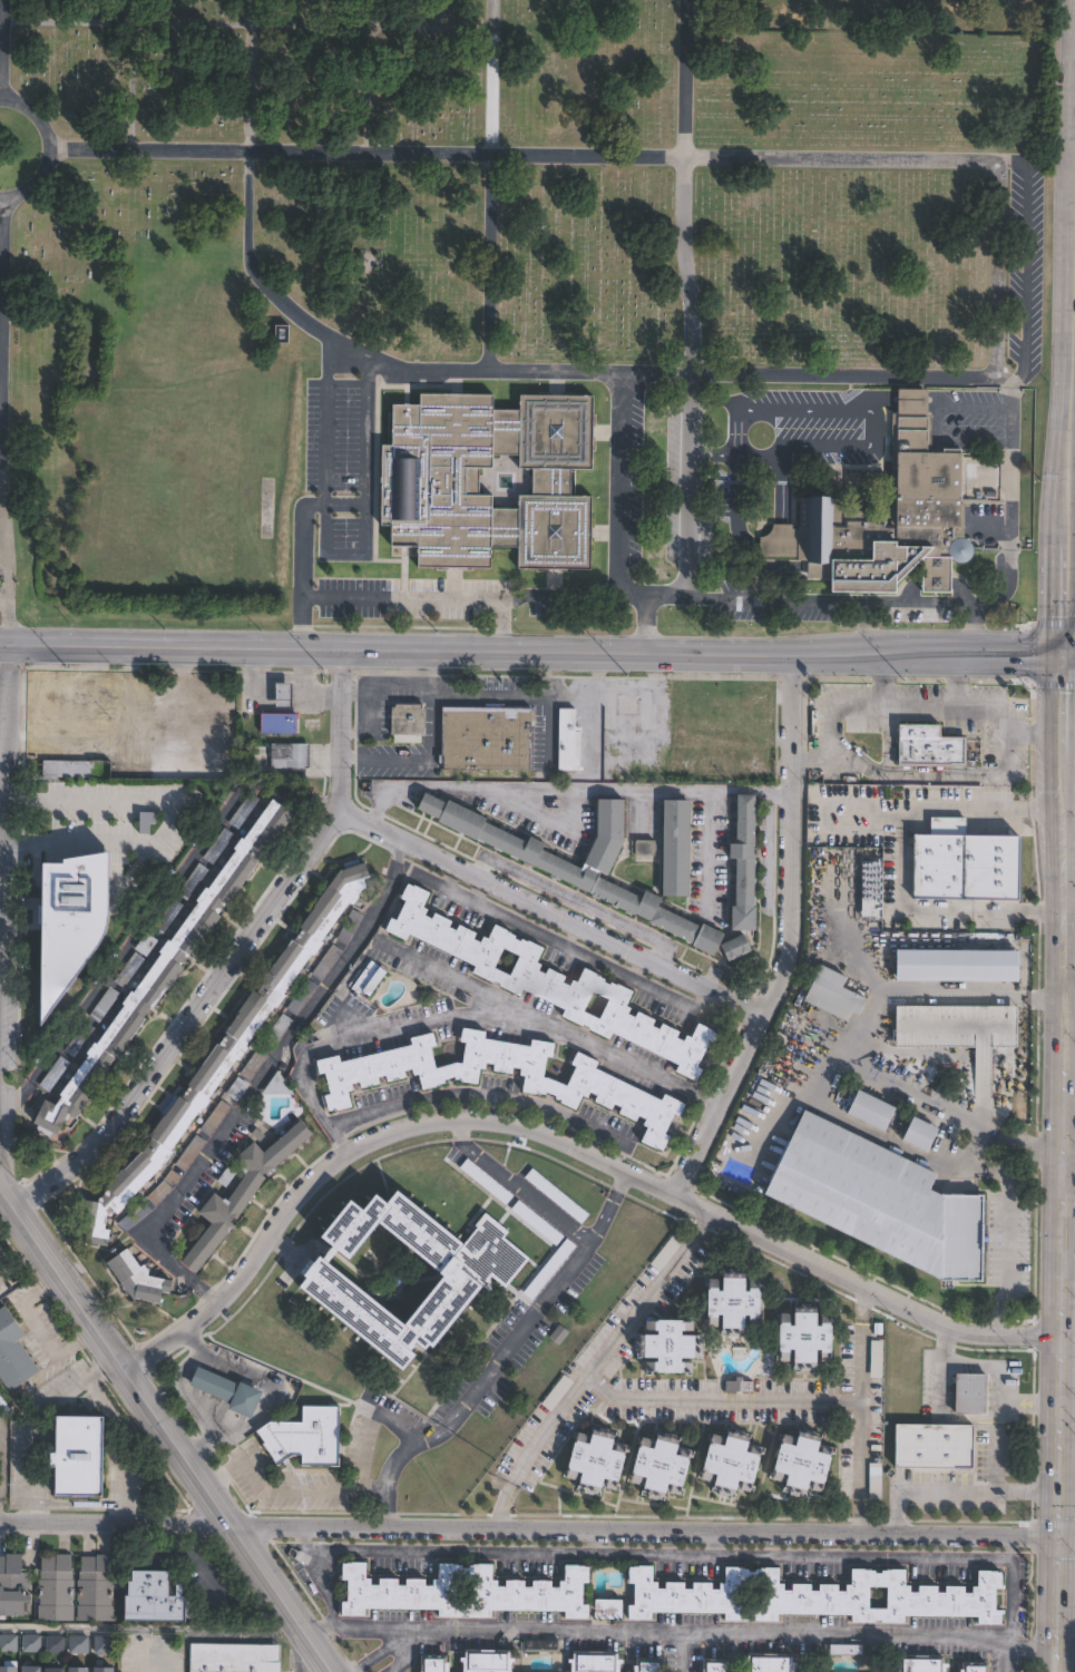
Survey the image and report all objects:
road: (129, 23)
road: (334, 23)
road: (442, 27)
road: (1, 50)
road: (692, 78)
road: (382, 89)
road: (49, 149)
road: (561, 154)
road: (1074, 286)
park: (521, 309)
road: (1072, 310)
building: (286, 334)
road: (690, 359)
road: (411, 363)
road: (947, 364)
road: (3, 380)
road: (874, 418)
road: (364, 444)
road: (7, 452)
building: (931, 475)
building: (491, 479)
road: (323, 492)
road: (1066, 538)
road: (656, 587)
road: (462, 598)
road: (854, 600)
road: (644, 619)
road: (500, 625)
road: (864, 628)
road: (397, 651)
road: (862, 655)
road: (996, 657)
traffic signals: (1063, 658)
road: (1068, 658)
road: (595, 669)
road: (374, 673)
road: (411, 673)
road: (537, 674)
road: (886, 683)
road: (956, 684)
building: (284, 695)
road: (385, 695)
road: (492, 696)
building: (75, 706)
road: (910, 711)
building: (721, 713)
building: (409, 721)
building: (281, 723)
road: (342, 725)
road: (370, 725)
building: (488, 739)
building: (570, 741)
building: (927, 743)
building: (138, 747)
road: (1061, 749)
building: (292, 759)
road: (936, 776)
road: (571, 786)
road: (1067, 808)
building: (245, 810)
parking lot: (245, 810)
road: (168, 823)
road: (765, 844)
building: (219, 845)
parking lot: (219, 845)
building: (677, 848)
building: (643, 849)
road: (707, 849)
road: (397, 853)
road: (897, 860)
building: (745, 863)
building: (962, 863)
building: (577, 874)
building: (194, 881)
parking lot: (194, 881)
road: (554, 911)
building: (169, 917)
parking lot: (169, 917)
building: (82, 926)
building: (351, 927)
parking lot: (351, 927)
road: (786, 936)
building: (147, 945)
parking lot: (147, 945)
building: (736, 947)
road: (1057, 949)
building: (328, 962)
parking lot: (328, 962)
building: (979, 962)
building: (168, 967)
building: (130, 970)
parking lot: (130, 970)
road: (446, 974)
building: (370, 981)
building: (551, 982)
road: (931, 985)
building: (832, 993)
building: (303, 997)
parking lot: (303, 997)
building: (105, 1005)
parking lot: (105, 1005)
road: (458, 1015)
road: (198, 1017)
building: (277, 1031)
parking lot: (277, 1031)
building: (80, 1039)
parking lot: (80, 1039)
building: (224, 1055)
building: (255, 1065)
parking lot: (255, 1065)
building: (56, 1074)
parking lot: (56, 1074)
road: (255, 1085)
road: (1065, 1085)
building: (278, 1086)
building: (583, 1088)
building: (237, 1089)
parking lot: (237, 1089)
road: (788, 1097)
road: (948, 1106)
road: (1055, 1108)
building: (871, 1109)
building: (216, 1117)
parking lot: (216, 1117)
road: (1065, 1125)
road: (457, 1131)
building: (919, 1134)
road: (364, 1146)
building: (192, 1153)
parking lot: (192, 1153)
road: (1064, 1163)
road: (617, 1180)
road: (1003, 1187)
building: (160, 1192)
parking lot: (160, 1192)
road: (524, 1193)
building: (240, 1194)
road: (1054, 1199)
building: (882, 1201)
building: (136, 1216)
parking lot: (136, 1216)
road: (599, 1218)
building: (664, 1252)
building: (398, 1272)
road: (66, 1277)
building: (136, 1280)
road: (1053, 1280)
road: (856, 1285)
road: (207, 1293)
building: (733, 1301)
road: (1064, 1320)
road: (1053, 1328)
building: (805, 1336)
road: (517, 1337)
building: (668, 1346)
building: (11, 1353)
road: (1053, 1356)
building: (874, 1358)
road: (599, 1363)
road: (969, 1366)
building: (740, 1386)
building: (224, 1390)
building: (970, 1394)
road: (182, 1396)
road: (722, 1396)
road: (1027, 1405)
building: (3, 1406)
road: (857, 1410)
road: (1064, 1416)
road: (1054, 1434)
building: (302, 1437)
building: (935, 1445)
building: (77, 1457)
building: (596, 1459)
building: (802, 1460)
road: (240, 1461)
building: (731, 1461)
road: (395, 1463)
building: (661, 1465)
road: (1, 1479)
building: (873, 1479)
road: (329, 1490)
road: (954, 1490)
road: (1054, 1513)
road: (233, 1522)
road: (526, 1526)
road: (1064, 1536)
road: (654, 1556)
road: (1065, 1566)
building: (16, 1586)
building: (98, 1587)
building: (58, 1590)
building: (466, 1592)
building: (817, 1596)
building: (150, 1597)
road: (1055, 1603)
building: (609, 1607)
road: (1065, 1614)
road: (508, 1626)
road: (149, 1627)
road: (849, 1634)
building: (27, 1641)
building: (8, 1642)
building: (52, 1643)
building: (78, 1643)
building: (541, 1643)
building: (104, 1644)
building: (846, 1646)
road: (302, 1651)
road: (145, 1652)
road: (380, 1652)
building: (233, 1658)
road: (1006, 1659)
building: (488, 1661)
building: (596, 1662)
building: (436, 1663)
building: (771, 1663)
building: (922, 1663)
building: (649, 1664)
building: (716, 1665)
building: (975, 1666)
building: (9, 1669)
building: (32, 1669)
building: (56, 1669)
building: (79, 1669)
building: (105, 1669)

